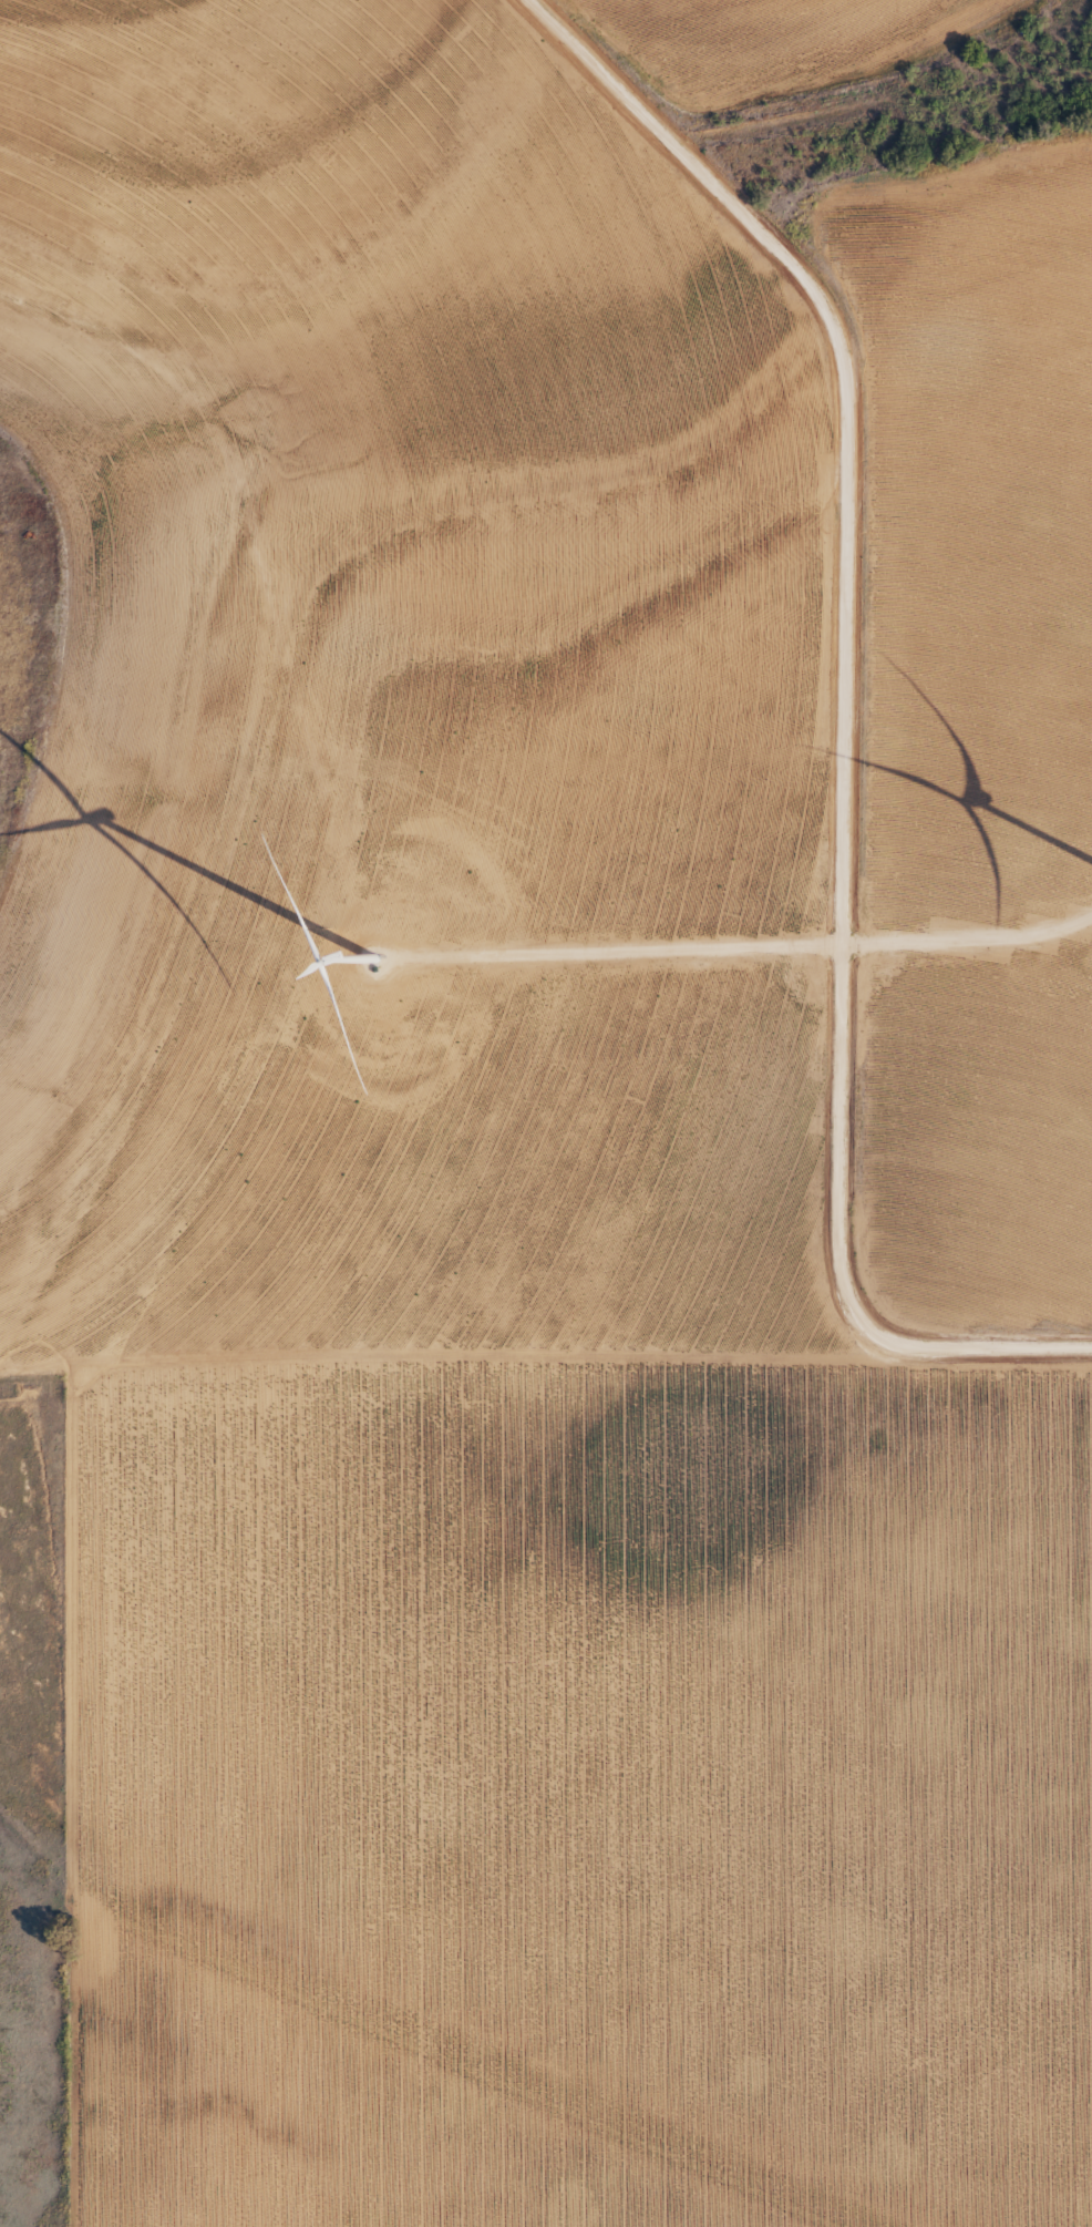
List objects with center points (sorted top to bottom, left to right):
road: (851, 714)
wind turbine: (375, 961)

